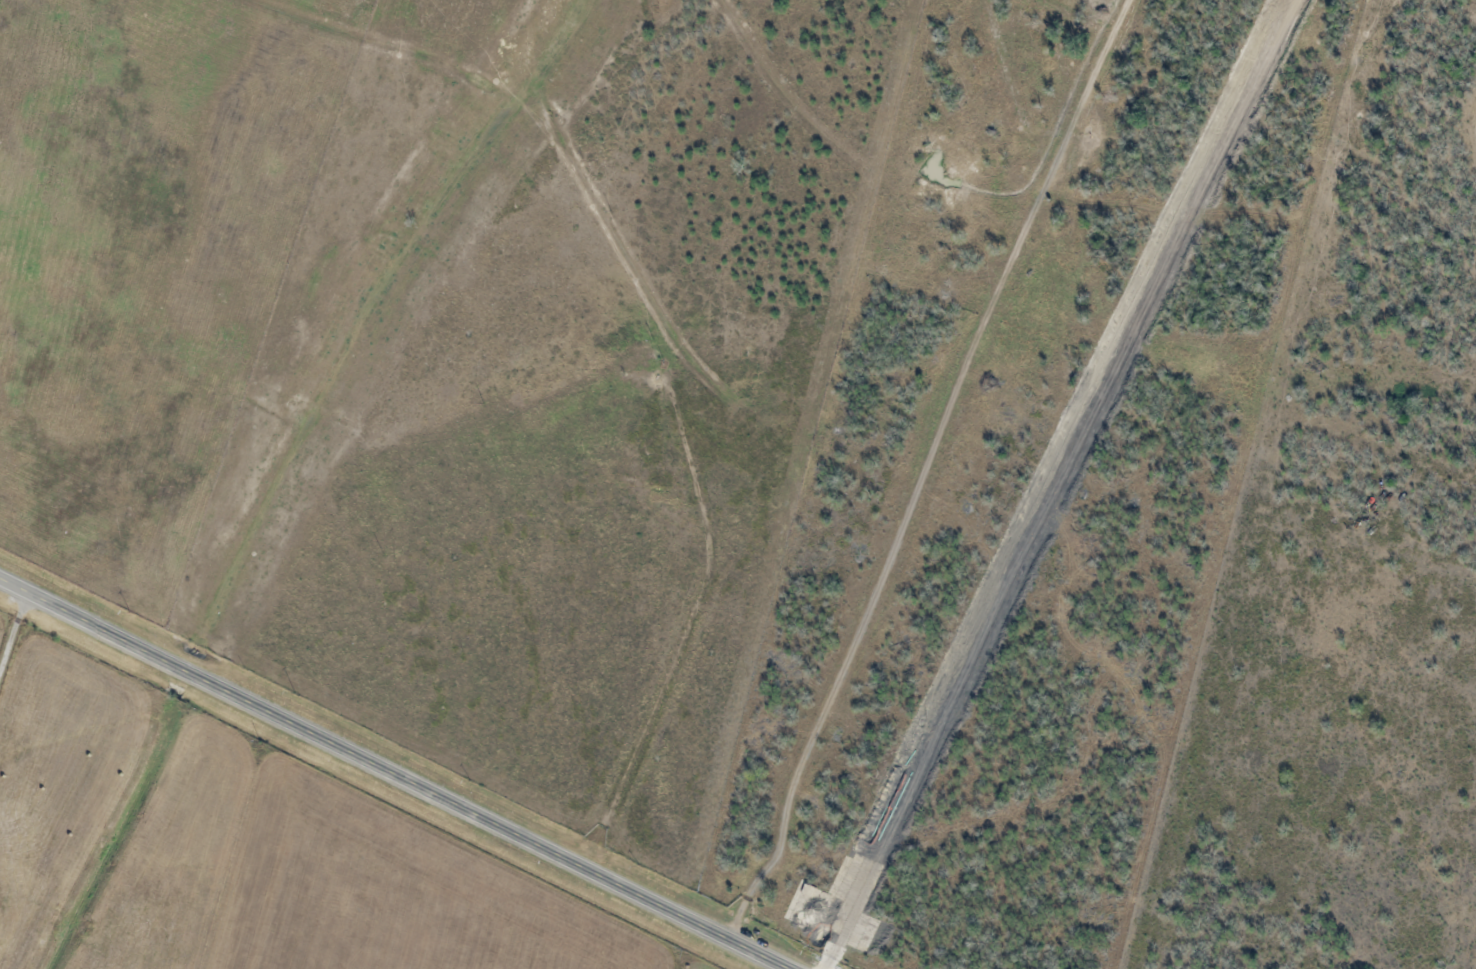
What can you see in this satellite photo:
road: (397, 773)

